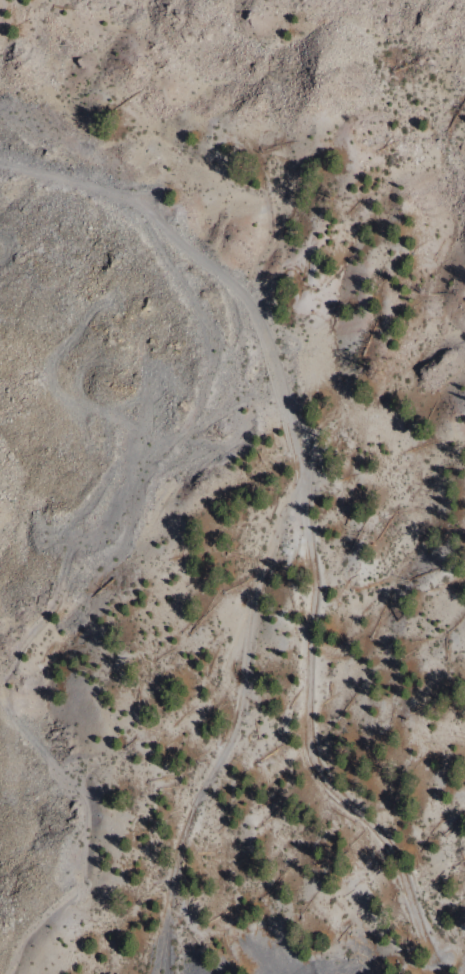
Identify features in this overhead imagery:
quarry: (426, 971)

